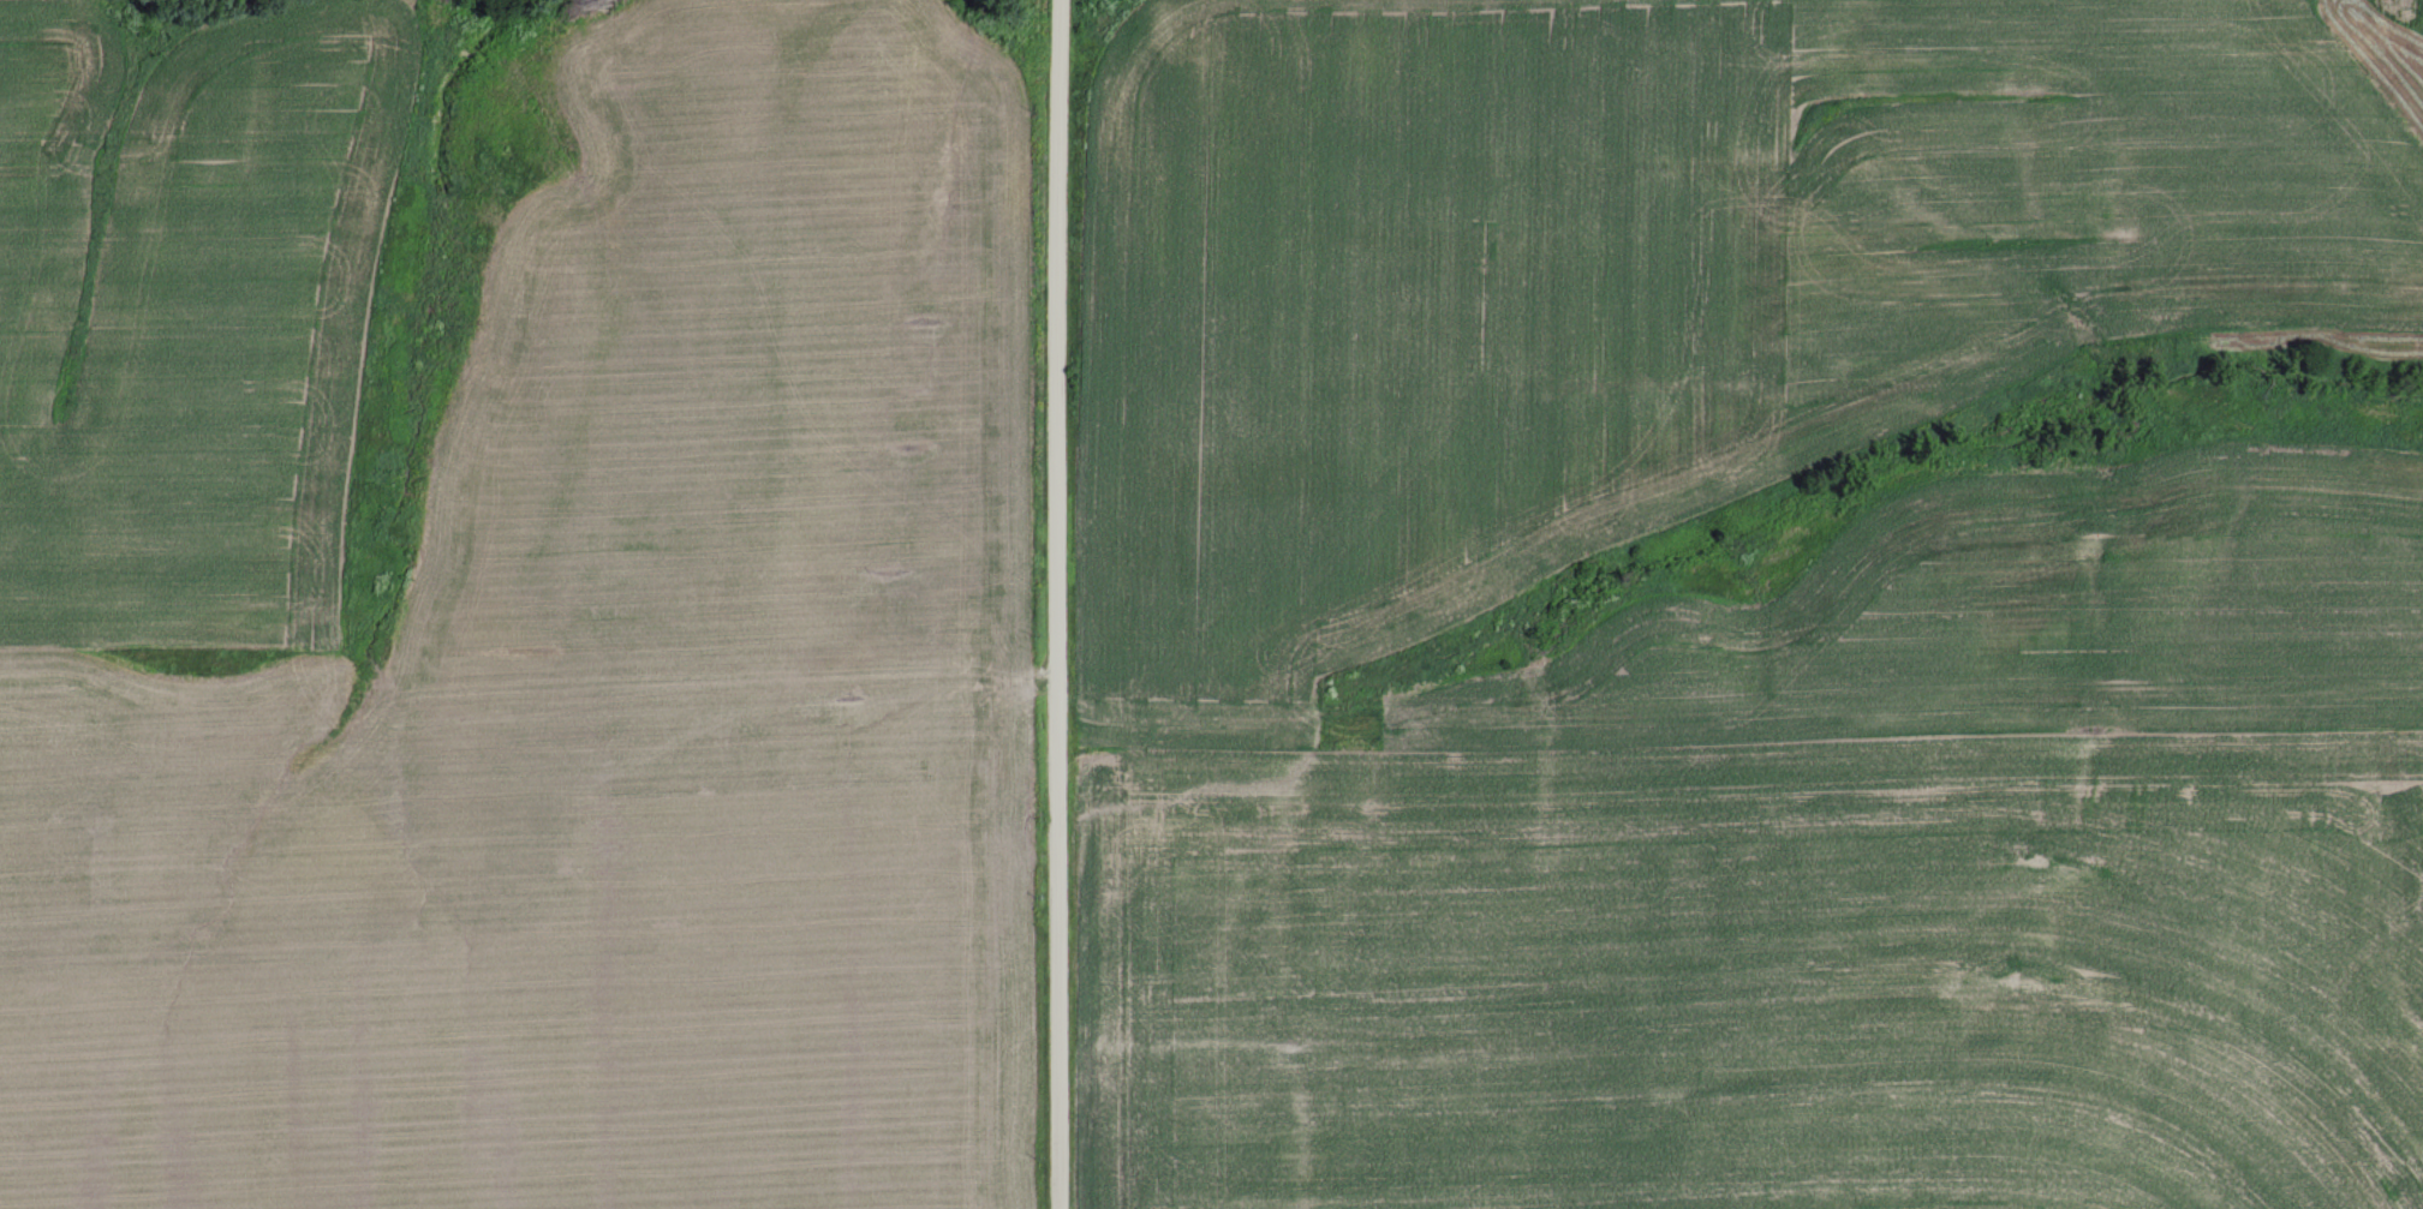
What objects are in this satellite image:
building: (2421, 7)
road: (1052, 604)

